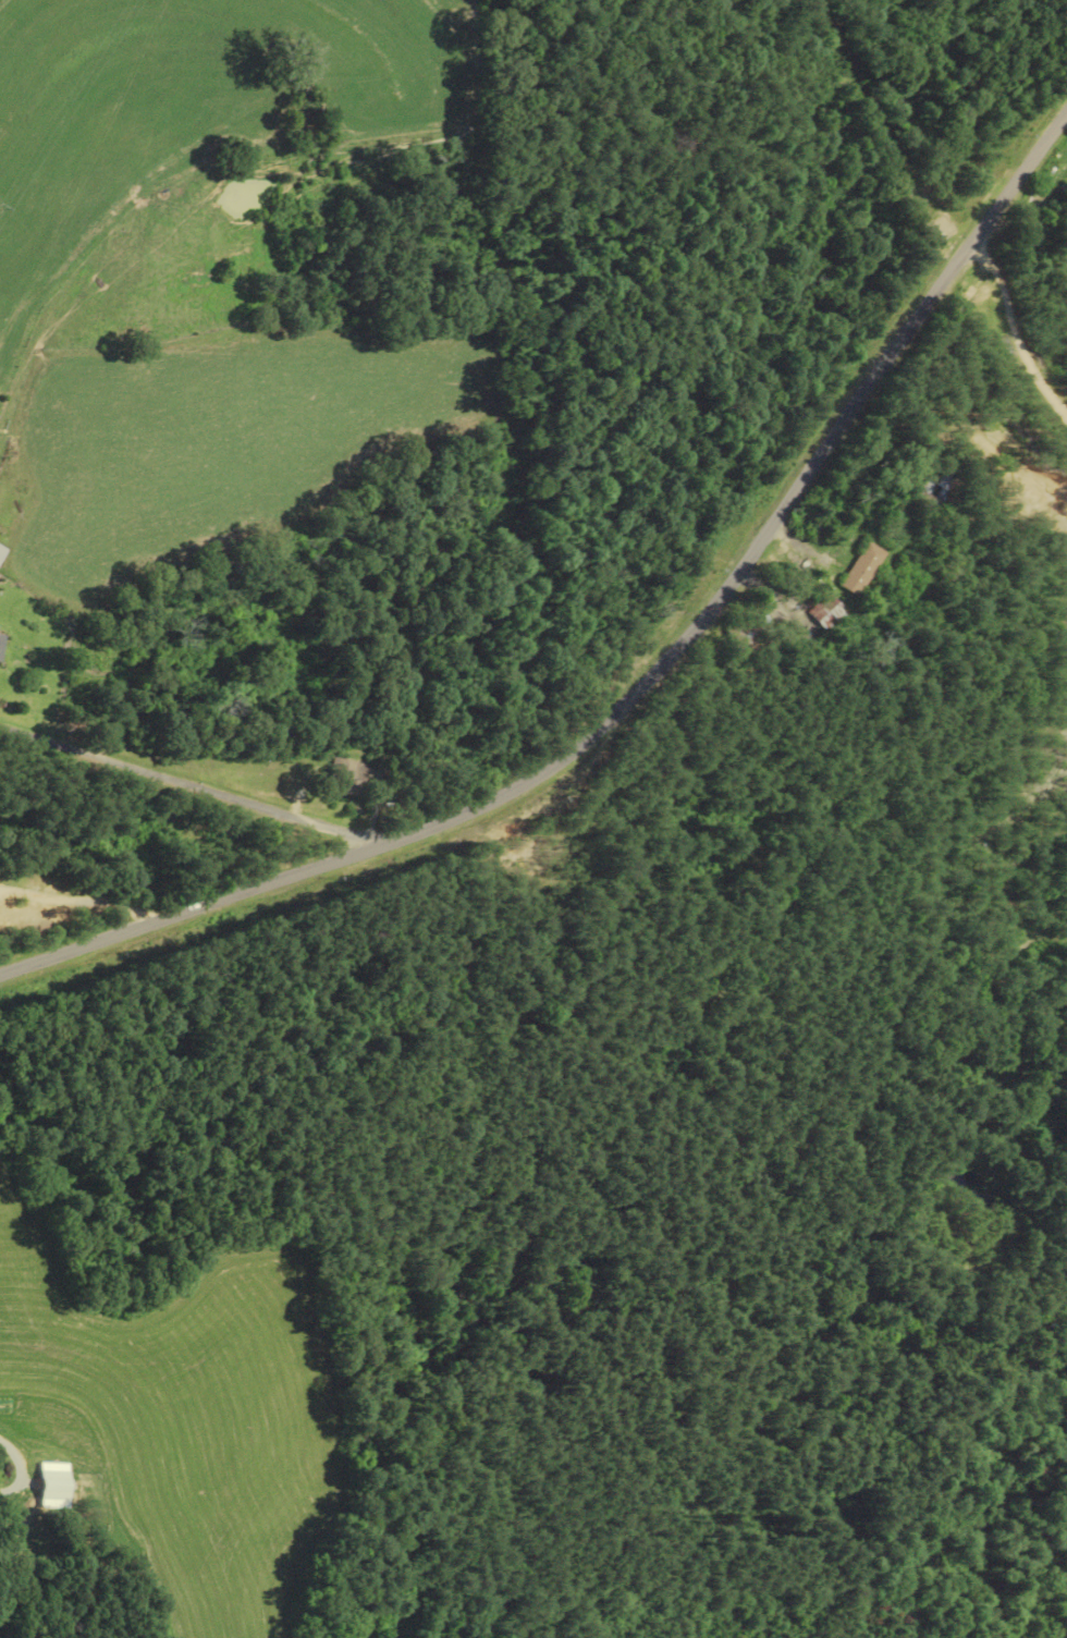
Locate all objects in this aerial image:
building: (303, 123)
road: (1017, 327)
building: (937, 488)
building: (2, 553)
building: (863, 567)
building: (826, 611)
building: (747, 632)
building: (2, 646)
road: (645, 689)
building: (345, 774)
road: (187, 785)
road: (24, 1469)

